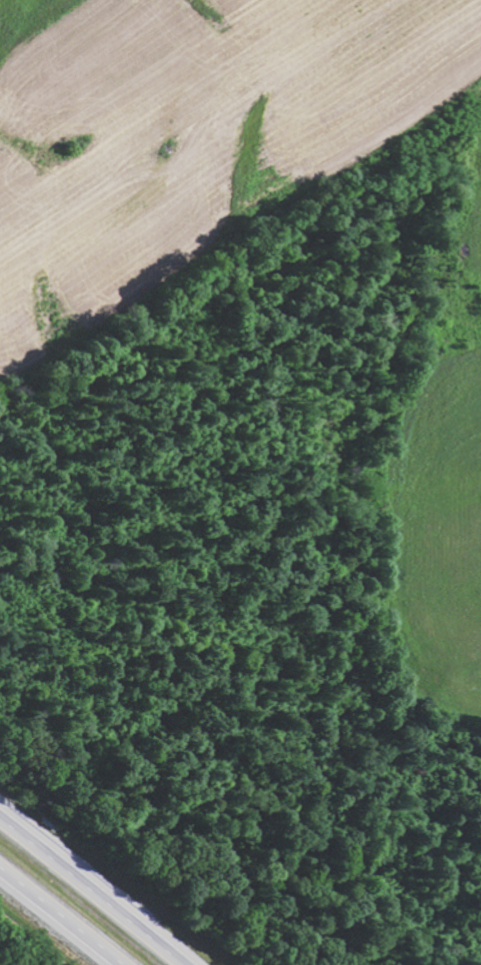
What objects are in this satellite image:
road: (95, 889)
road: (62, 914)

